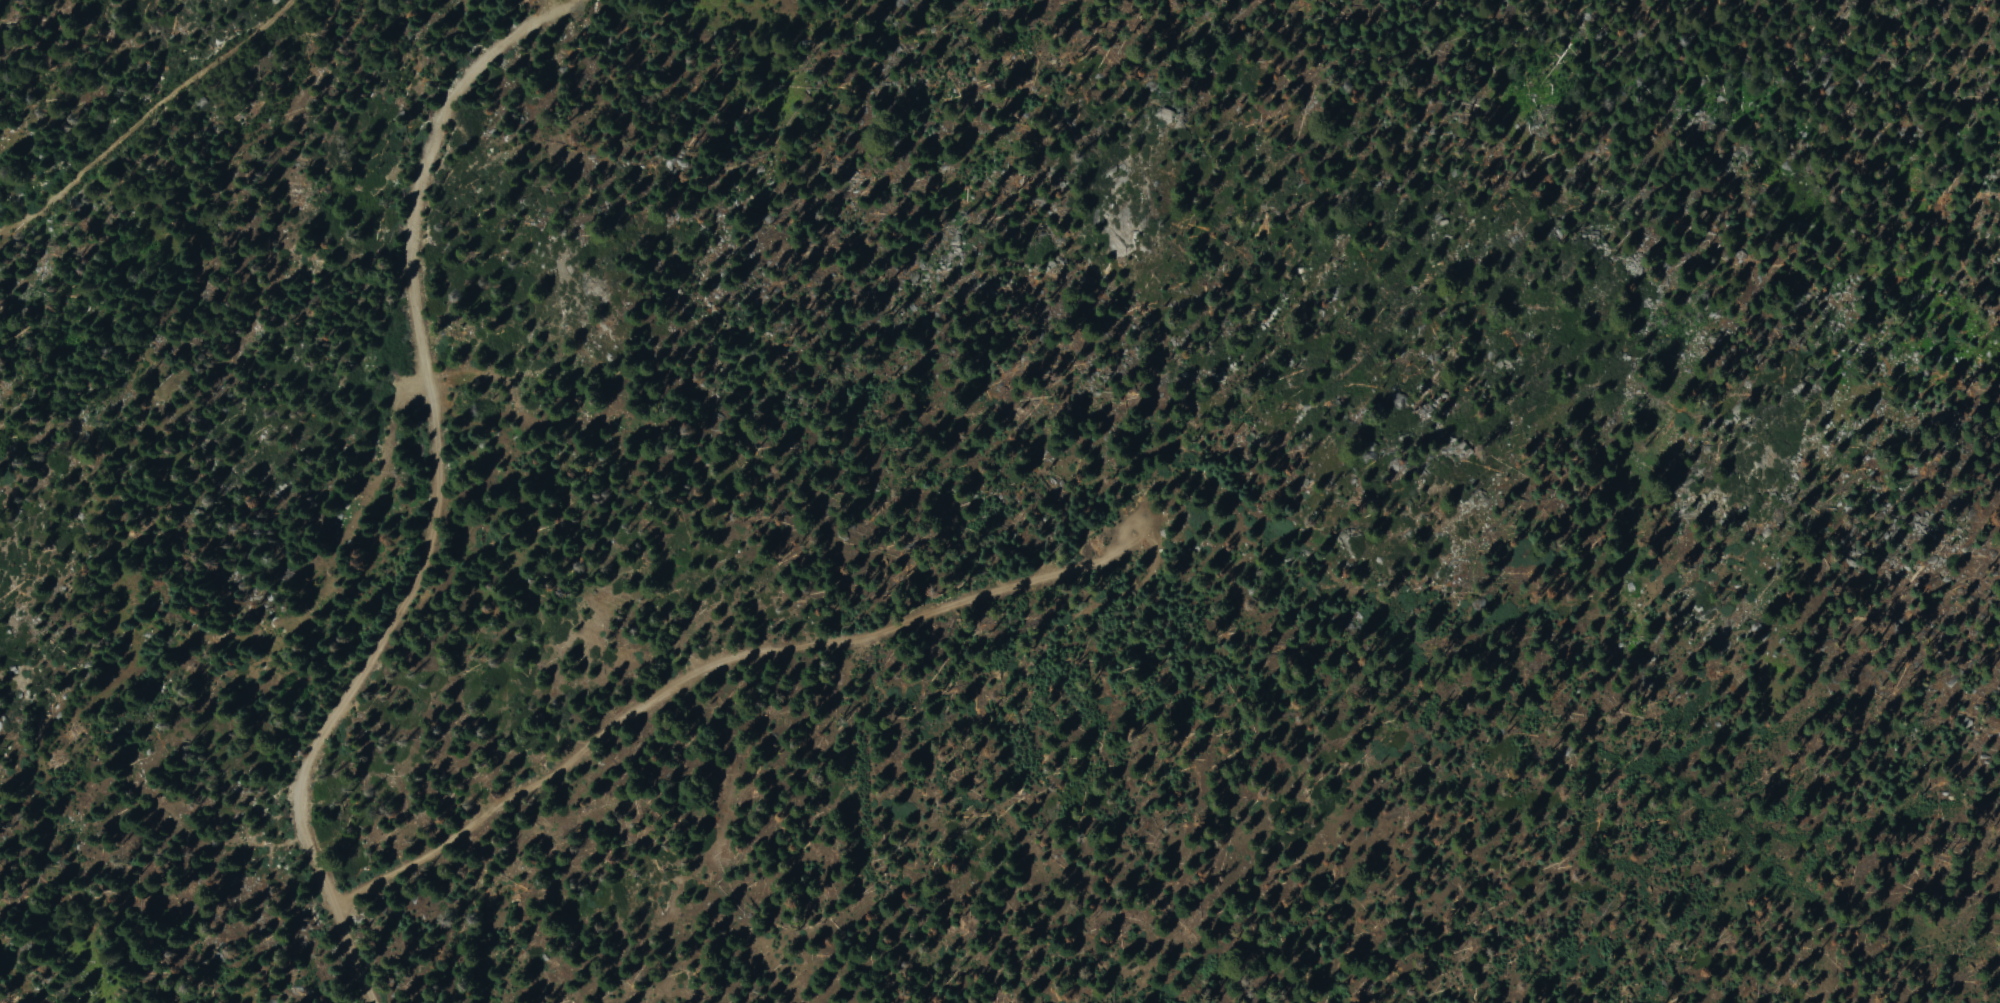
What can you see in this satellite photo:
road: (575, 10)
road: (145, 111)
road: (421, 486)

